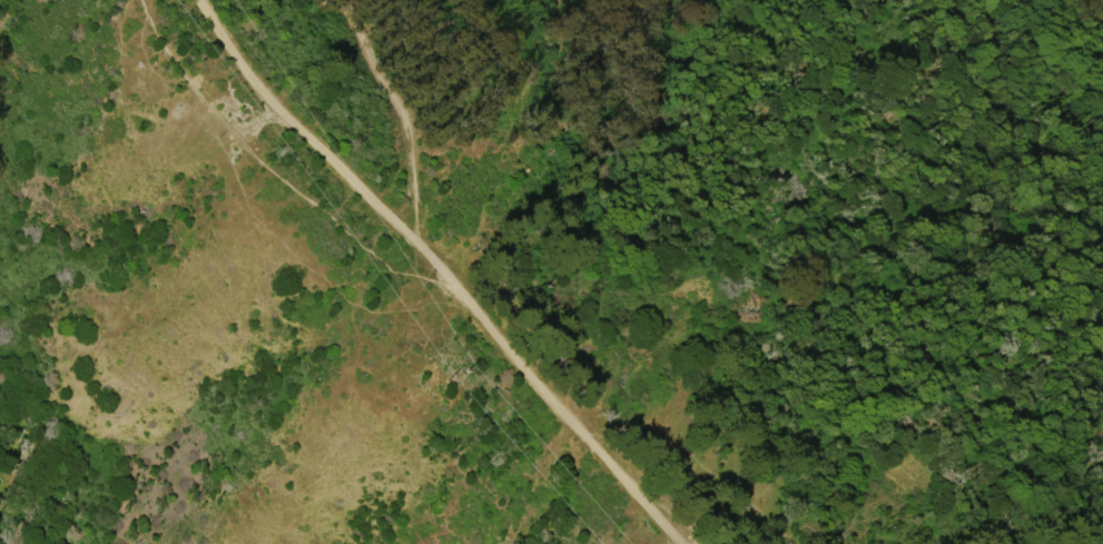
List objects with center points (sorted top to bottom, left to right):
road: (414, 123)
road: (444, 274)

